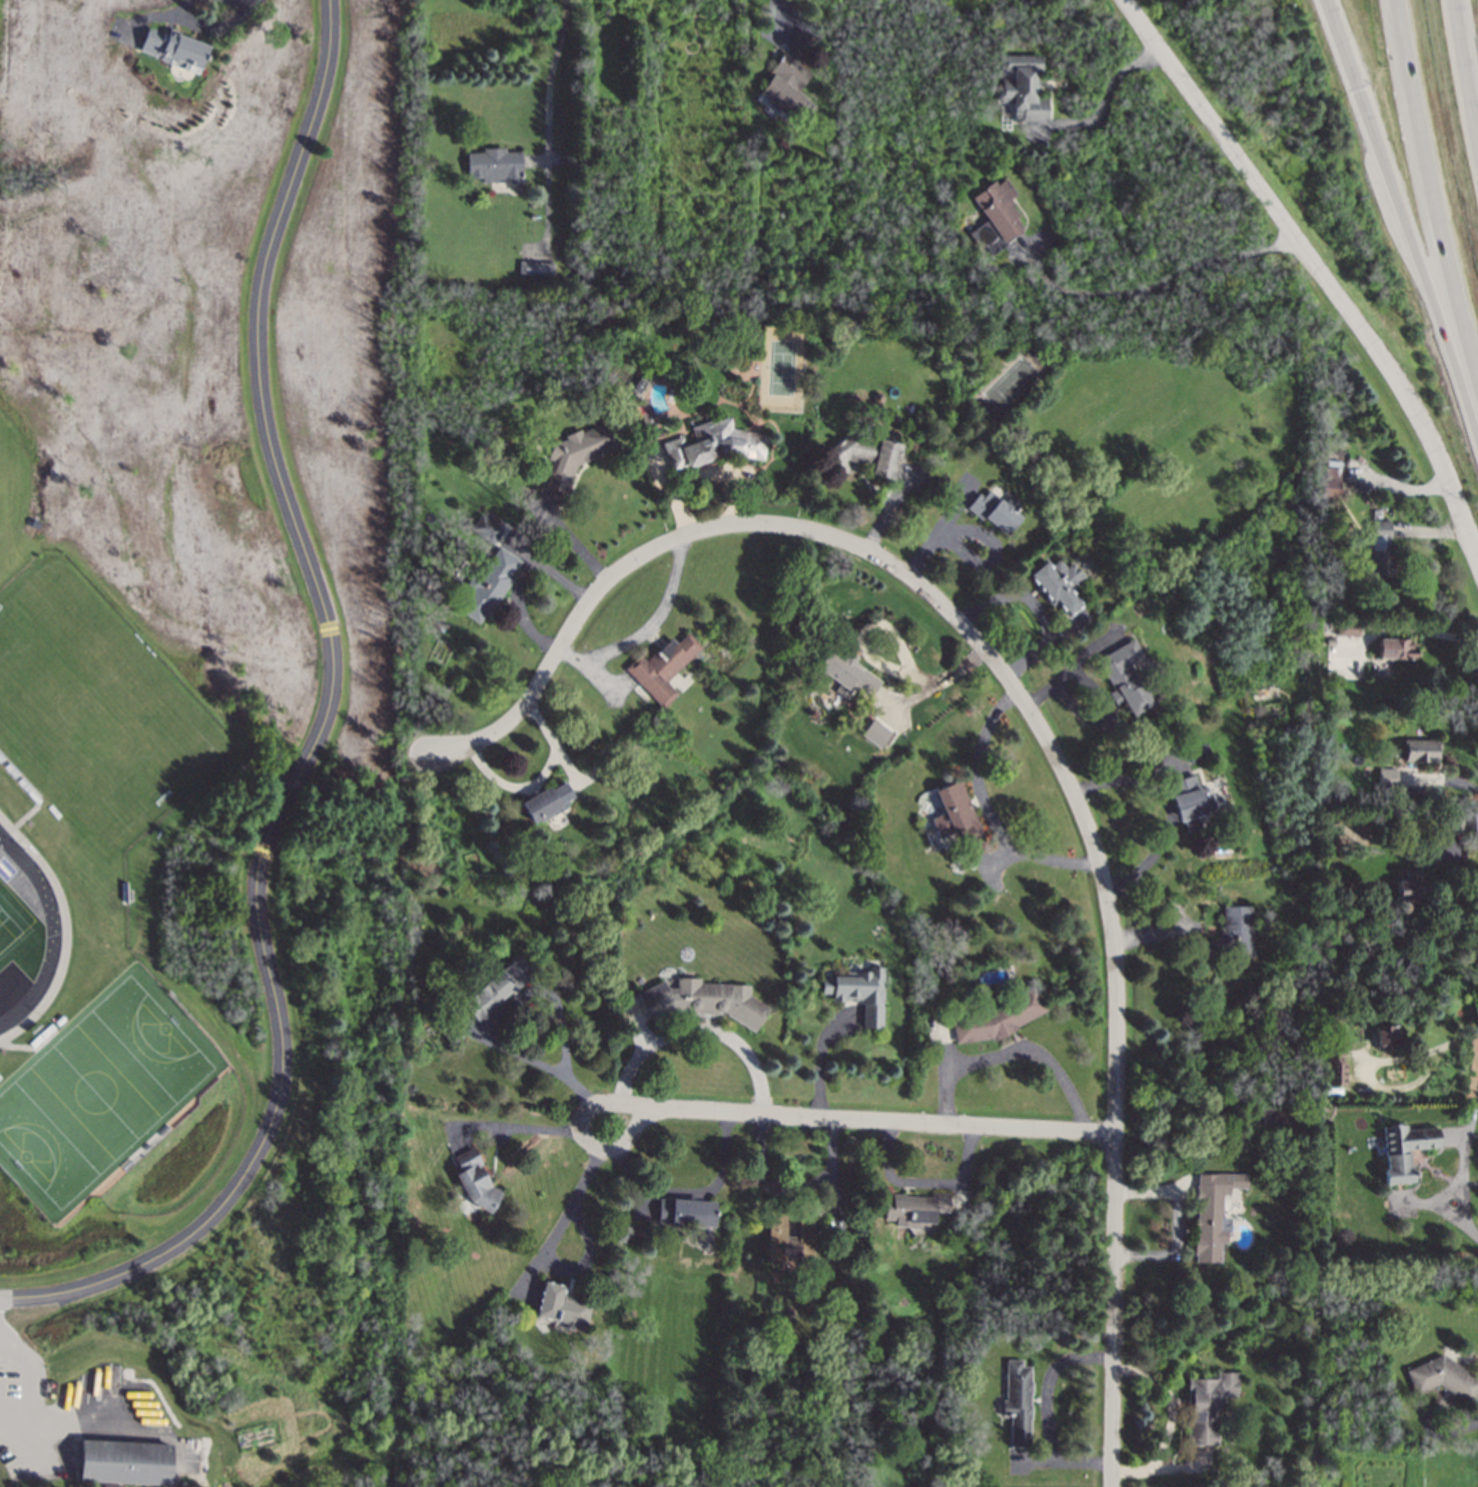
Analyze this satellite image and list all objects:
road: (235, 4)
road: (246, 4)
road: (779, 14)
road: (203, 28)
road: (1471, 43)
building: (173, 49)
building: (788, 75)
road: (550, 80)
building: (1024, 87)
road: (1104, 105)
building: (494, 166)
road: (1427, 202)
building: (994, 217)
building: (535, 268)
road: (1320, 272)
road: (1155, 288)
building: (999, 290)
park: (779, 366)
park: (1012, 382)
building: (637, 386)
building: (876, 398)
building: (713, 445)
building: (868, 453)
building: (575, 454)
building: (1330, 482)
building: (994, 511)
building: (485, 528)
road: (578, 545)
building: (1381, 549)
road: (667, 553)
road: (518, 577)
building: (487, 585)
building: (1057, 585)
road: (648, 626)
building: (1347, 629)
road: (1421, 632)
building: (1325, 634)
building: (1396, 648)
building: (662, 667)
building: (846, 673)
building: (1124, 678)
road: (937, 681)
park: (89, 708)
building: (646, 724)
road: (317, 731)
building: (876, 733)
building: (1420, 750)
building: (596, 768)
building: (1387, 777)
road: (536, 779)
road: (1445, 784)
building: (546, 801)
building: (1190, 801)
building: (1349, 805)
road: (1167, 808)
road: (989, 812)
building: (958, 818)
building: (1471, 822)
building: (1453, 824)
building: (1410, 890)
road: (1456, 910)
park: (11, 915)
park: (7, 928)
track: (52, 930)
building: (1226, 936)
building: (499, 987)
building: (859, 992)
building: (1357, 997)
road: (528, 998)
building: (703, 1000)
building: (997, 1018)
building: (450, 1028)
road: (700, 1032)
building: (1387, 1036)
road: (1119, 1038)
road: (1462, 1040)
road: (1013, 1055)
building: (1334, 1055)
road: (820, 1059)
road: (1368, 1085)
park: (96, 1091)
road: (871, 1123)
road: (521, 1129)
road: (581, 1134)
building: (1236, 1135)
building: (1403, 1149)
road: (923, 1180)
building: (474, 1181)
road: (794, 1187)
road: (1462, 1187)
building: (914, 1209)
building: (686, 1213)
building: (1207, 1226)
building: (790, 1236)
road: (546, 1251)
building: (561, 1307)
road: (9, 1343)
road: (9, 1351)
building: (1443, 1377)
road: (27, 1399)
building: (1017, 1403)
building: (1208, 1406)
road: (1047, 1413)
parking lot: (66, 1415)
road: (1170, 1424)
building: (974, 1436)
building: (125, 1462)
building: (111, 1486)

